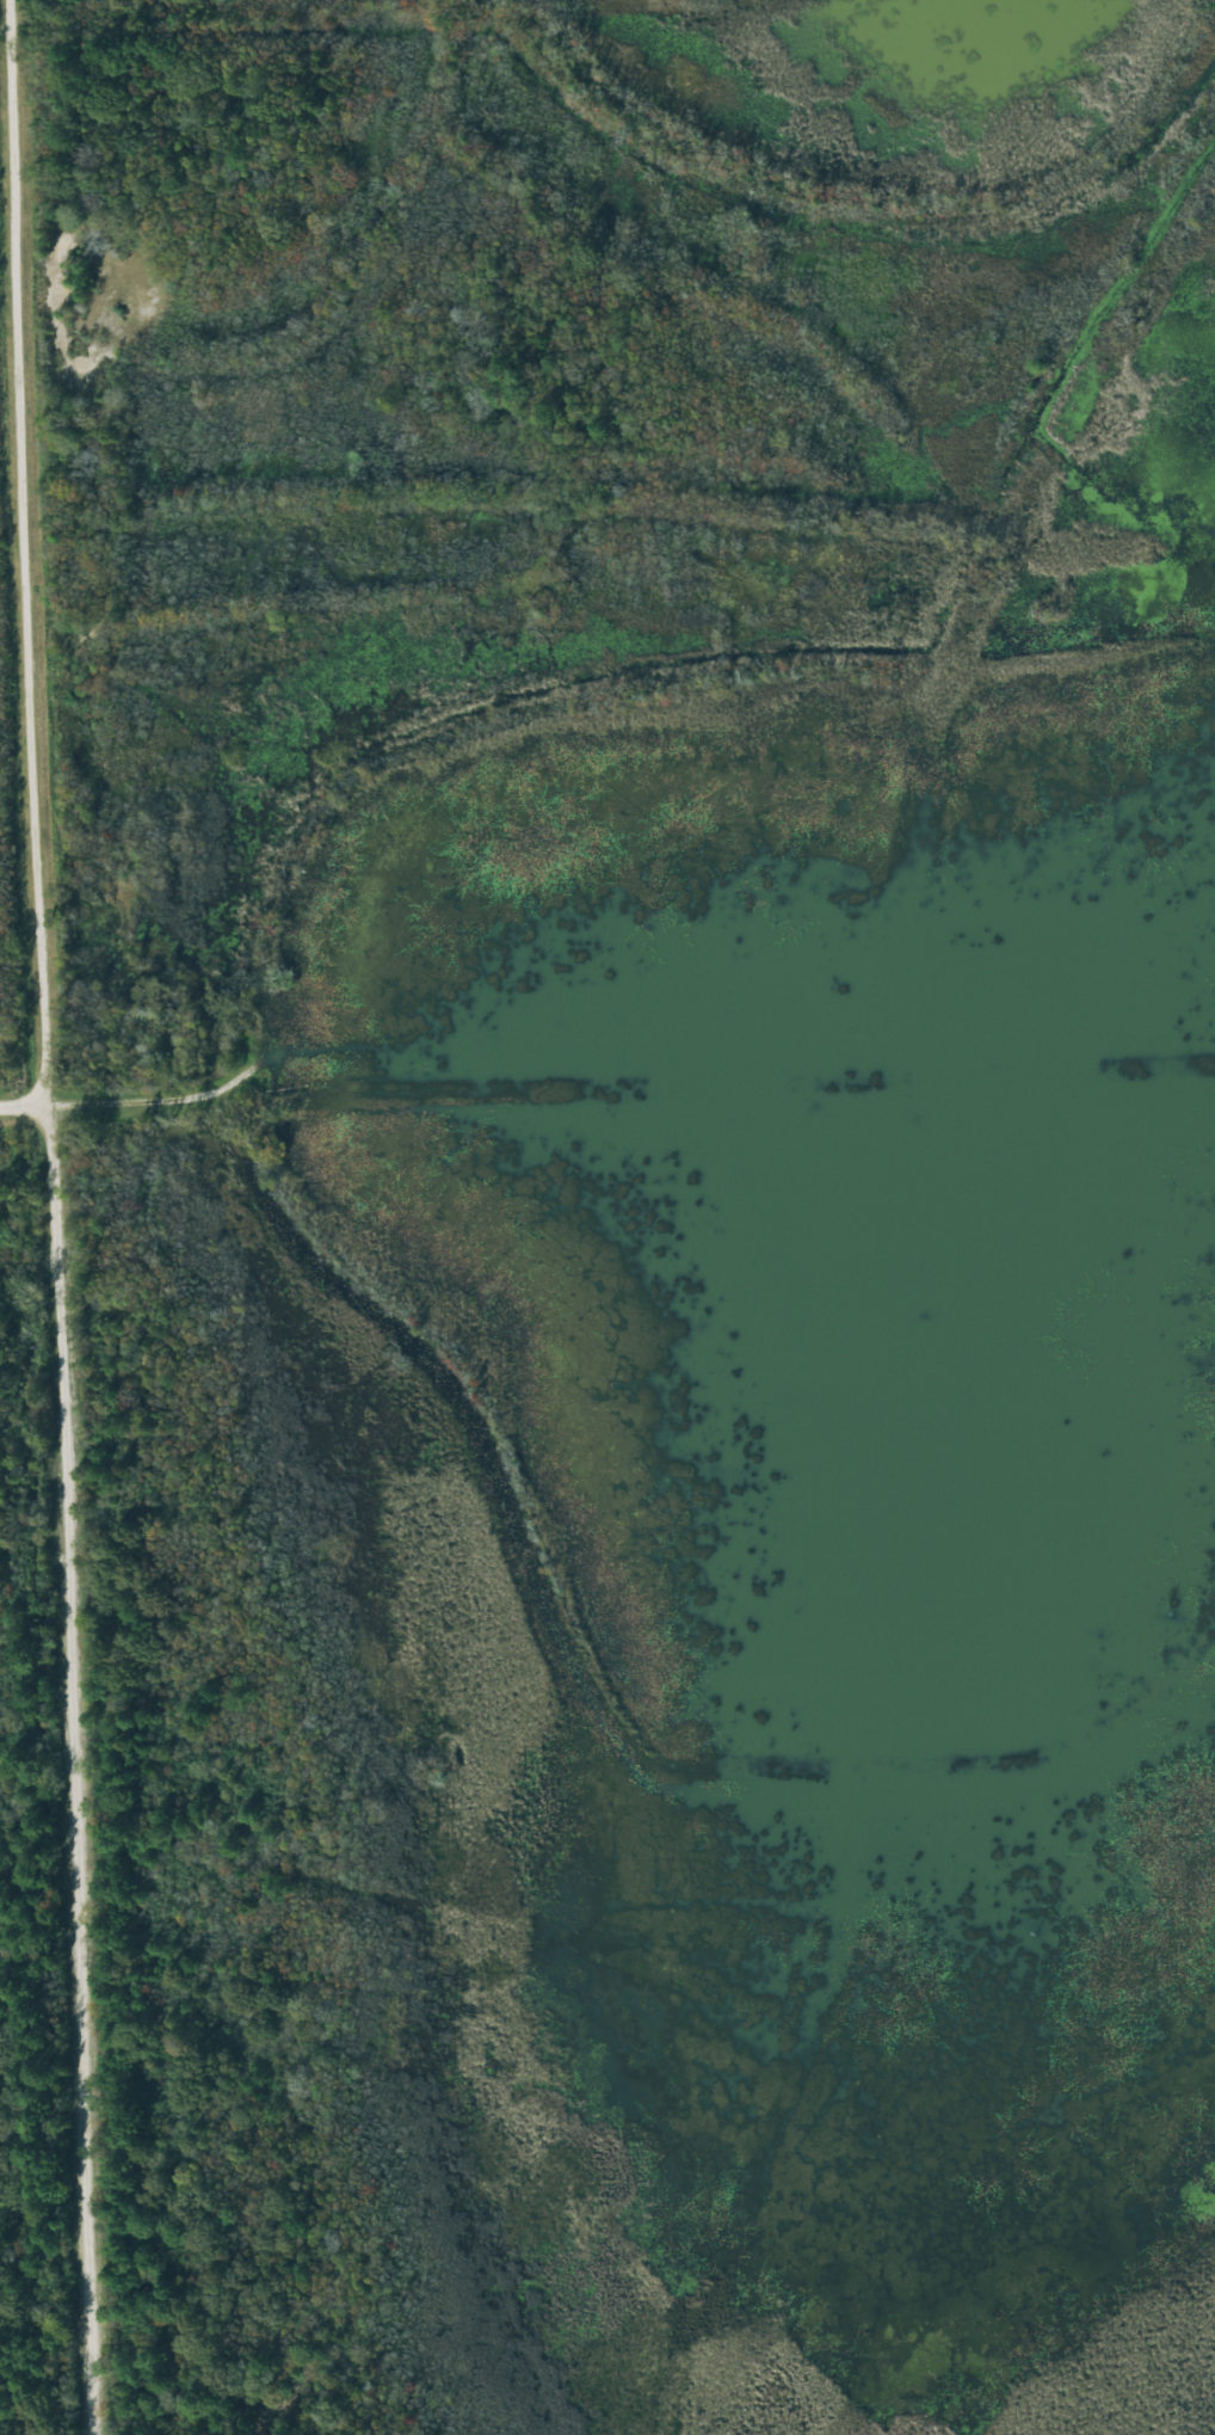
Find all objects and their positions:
road: (10, 27)
road: (13, 970)
road: (17, 1106)
road: (36, 1217)

